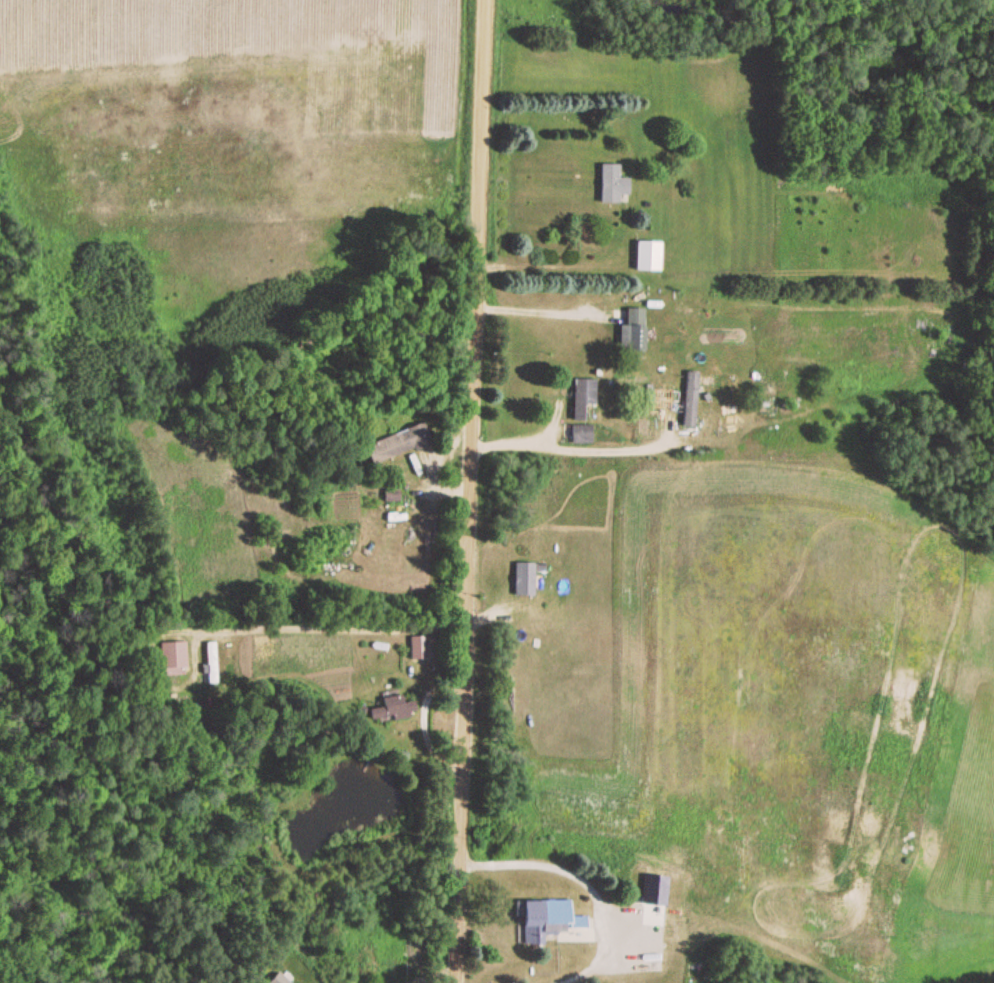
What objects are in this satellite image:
building: (608, 185)
building: (644, 257)
building: (628, 332)
building: (579, 397)
building: (687, 400)
building: (578, 434)
building: (396, 445)
road: (457, 491)
building: (521, 580)
building: (172, 660)
building: (209, 664)
crop: (769, 700)
building: (389, 710)
road: (374, 838)
building: (644, 895)
building: (539, 921)
building: (636, 947)

